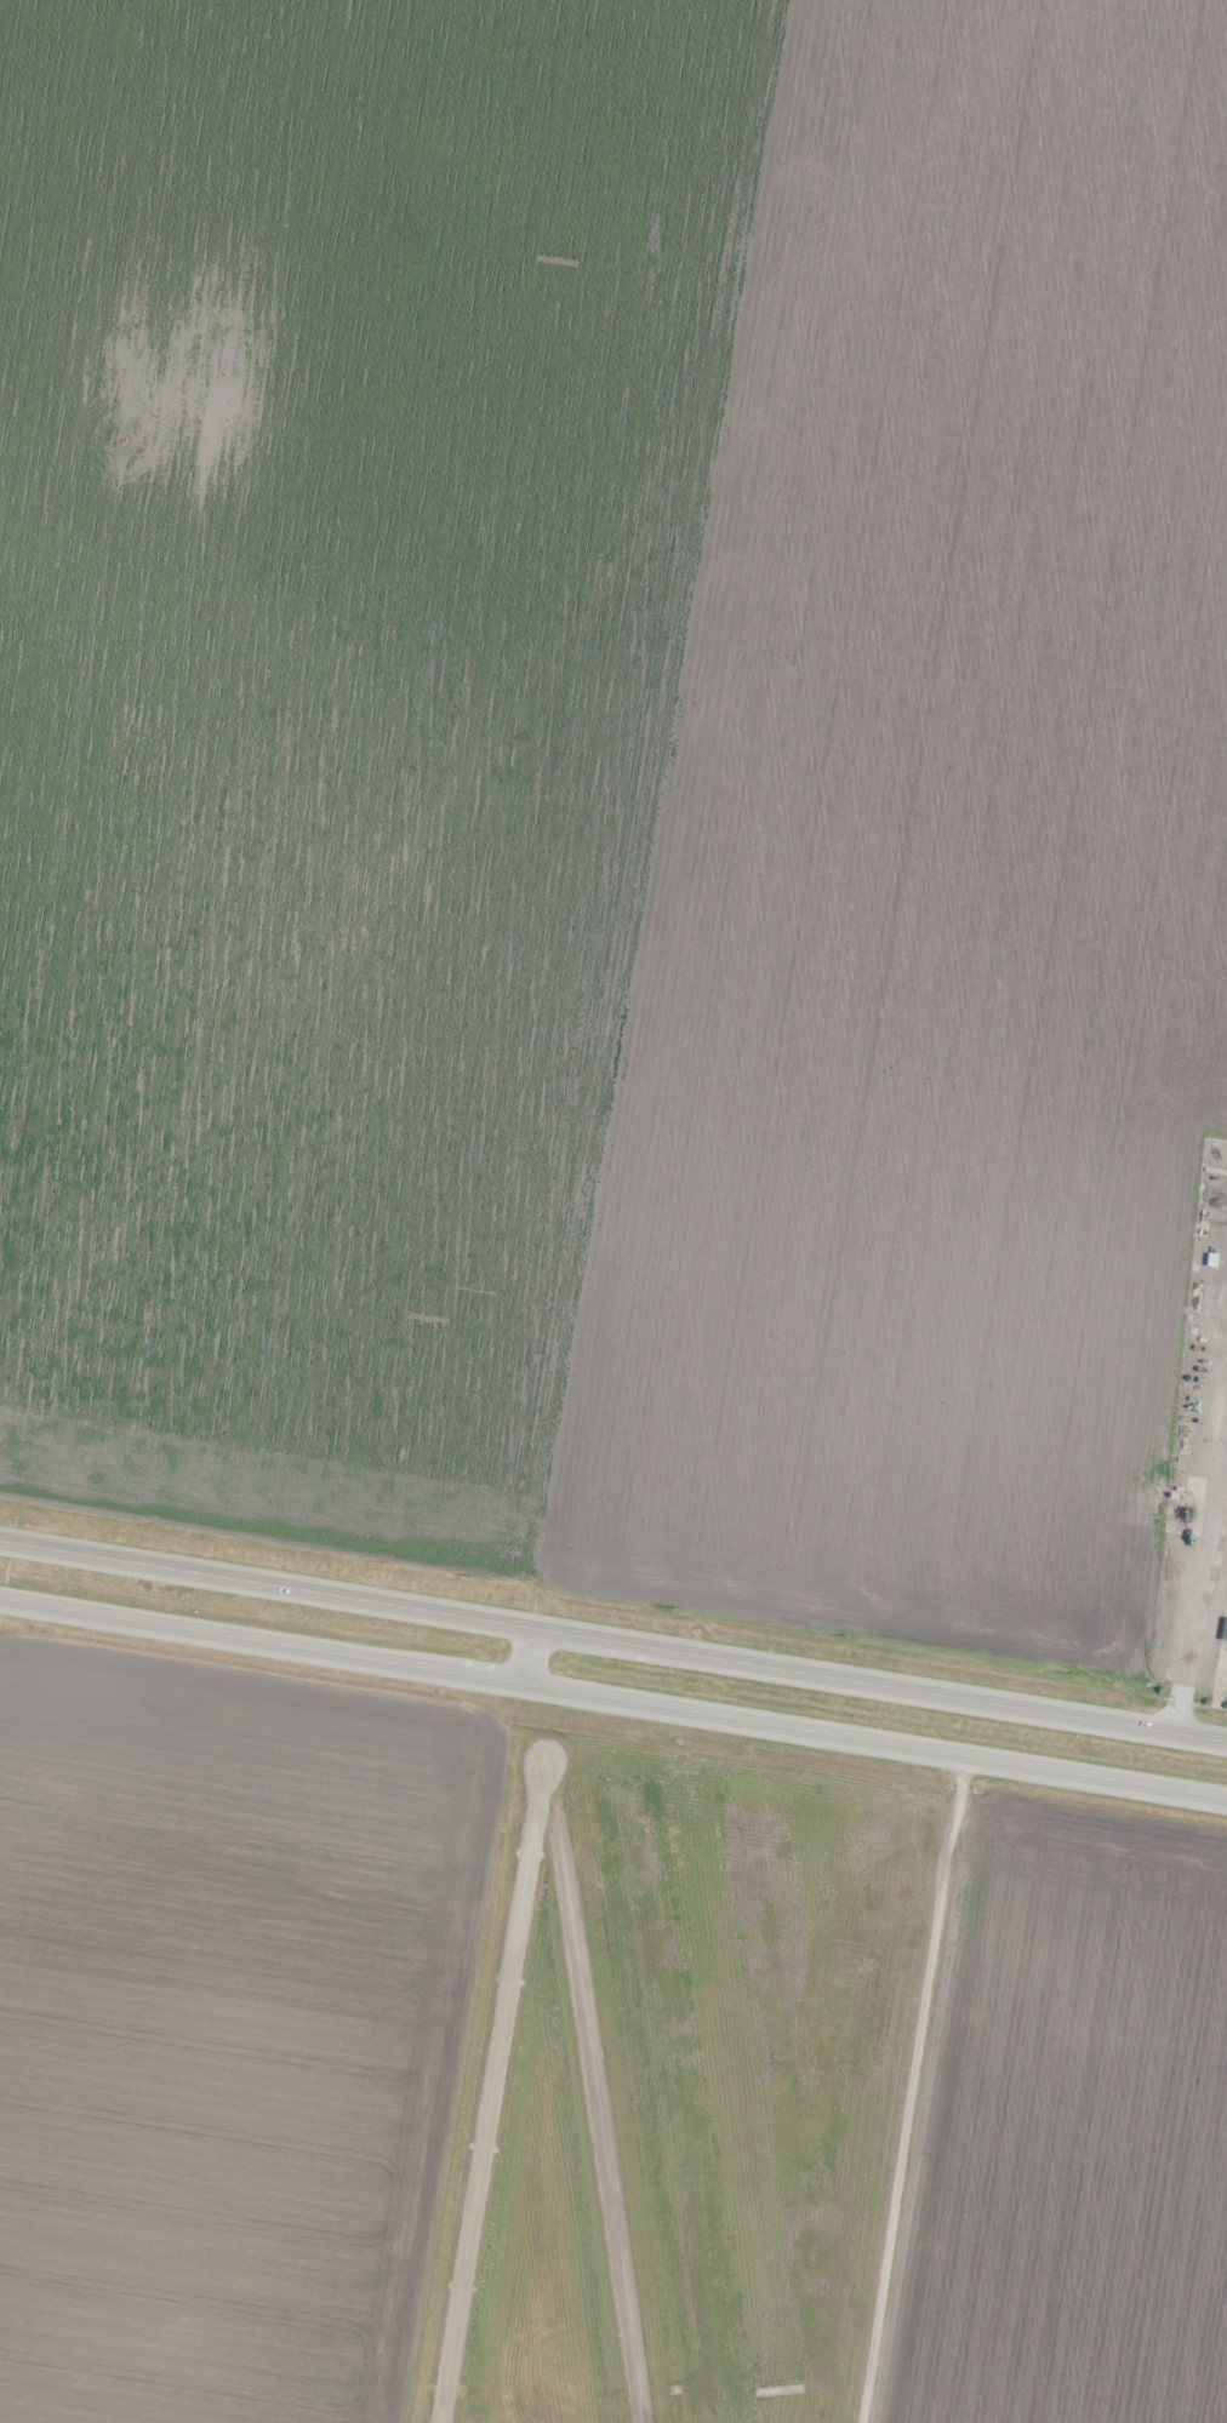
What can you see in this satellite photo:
building: (1225, 1630)
road: (612, 1641)
road: (529, 1656)
road: (613, 1698)

